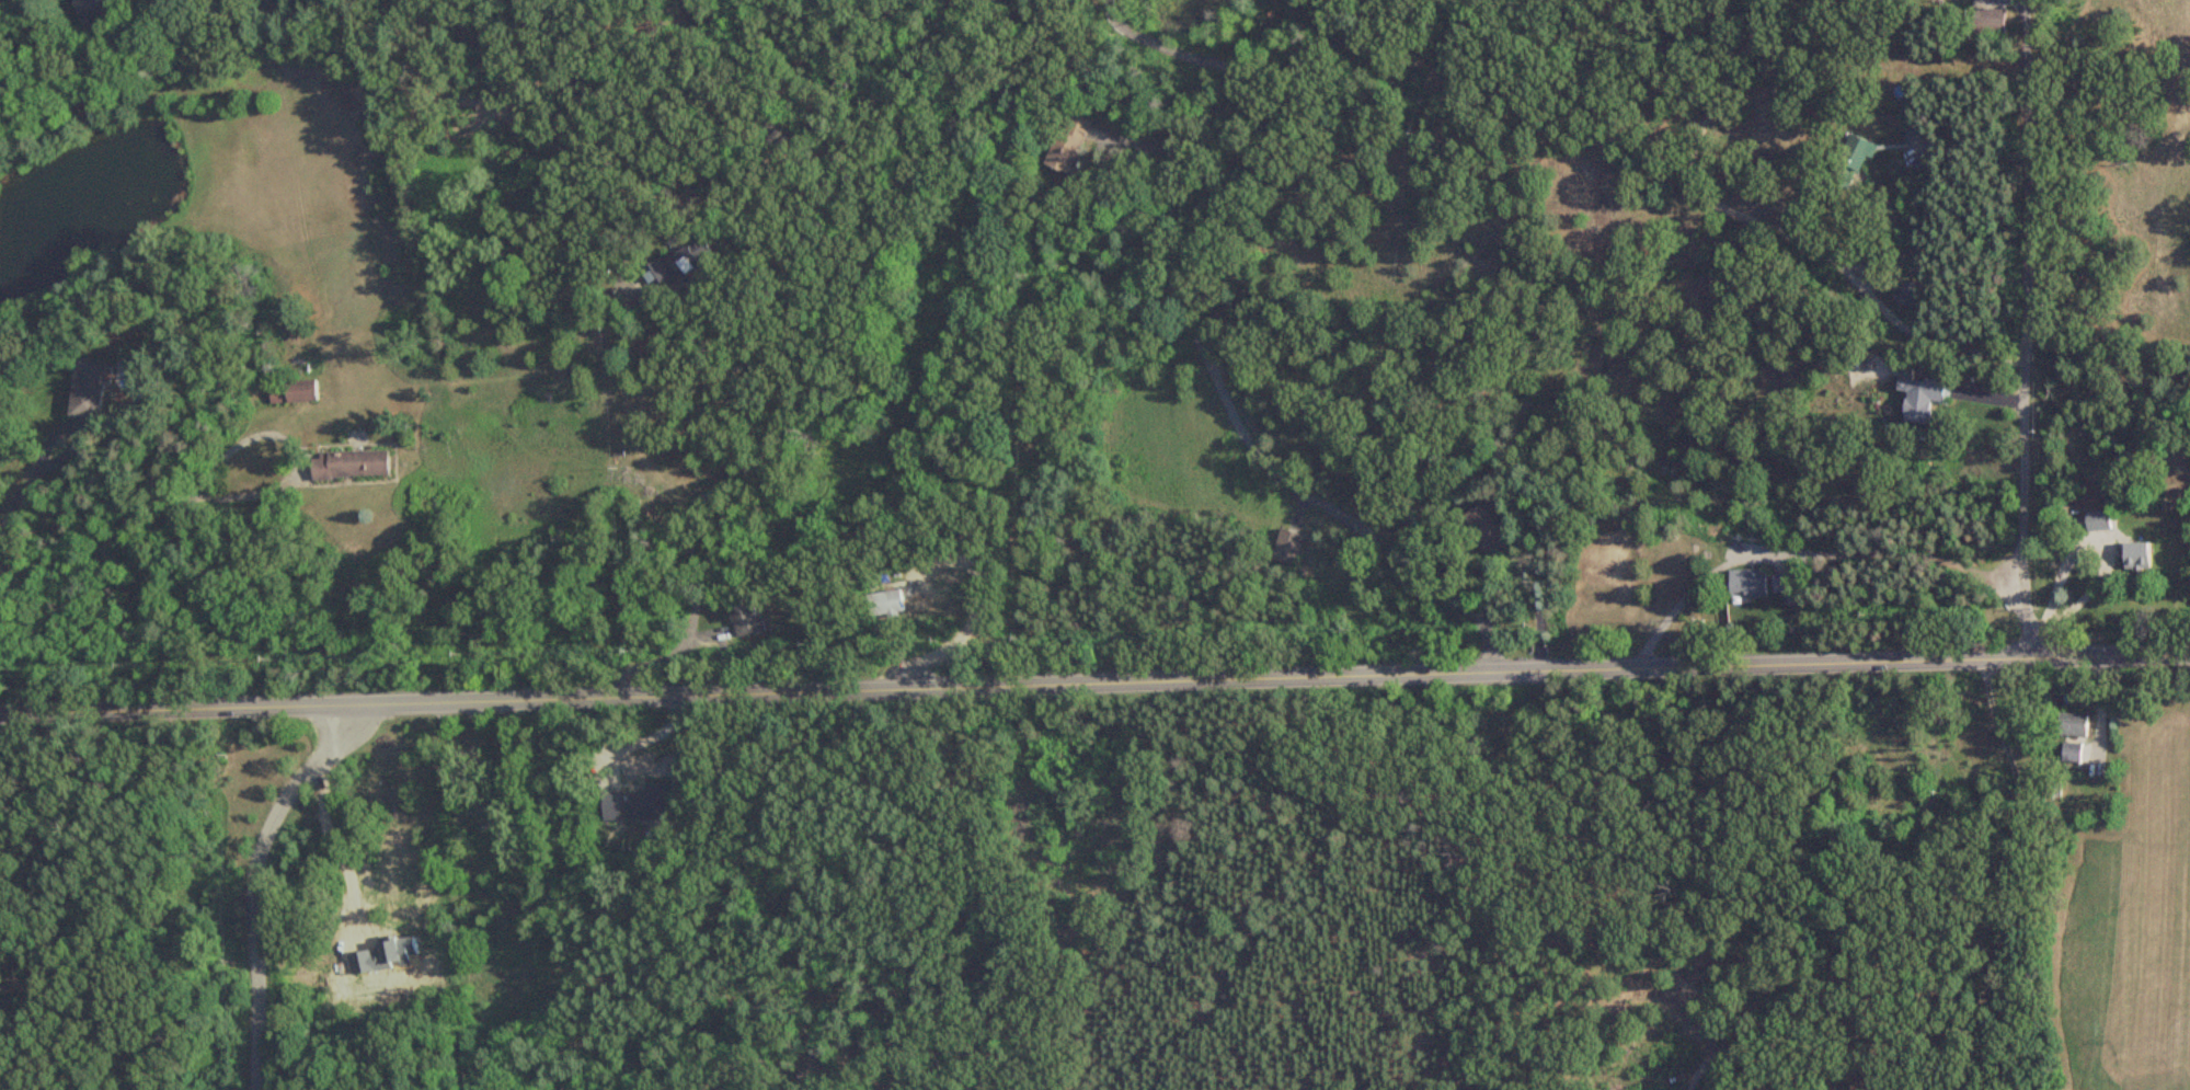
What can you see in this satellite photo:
building: (88, 9)
building: (1987, 22)
road: (1166, 46)
building: (1070, 141)
building: (1851, 159)
road: (1775, 228)
road: (2027, 240)
building: (680, 260)
building: (1910, 296)
road: (1180, 346)
building: (87, 391)
building: (291, 392)
building: (1920, 398)
road: (70, 432)
road: (293, 449)
building: (348, 464)
road: (743, 473)
road: (1773, 501)
road: (13, 504)
building: (2099, 520)
building: (1489, 531)
building: (1288, 548)
road: (440, 553)
road: (92, 554)
building: (2137, 557)
road: (2029, 569)
building: (1748, 583)
building: (1787, 584)
building: (886, 605)
building: (746, 619)
road: (1094, 685)
building: (2071, 726)
building: (2071, 754)
building: (639, 805)
road: (320, 848)
road: (255, 884)

